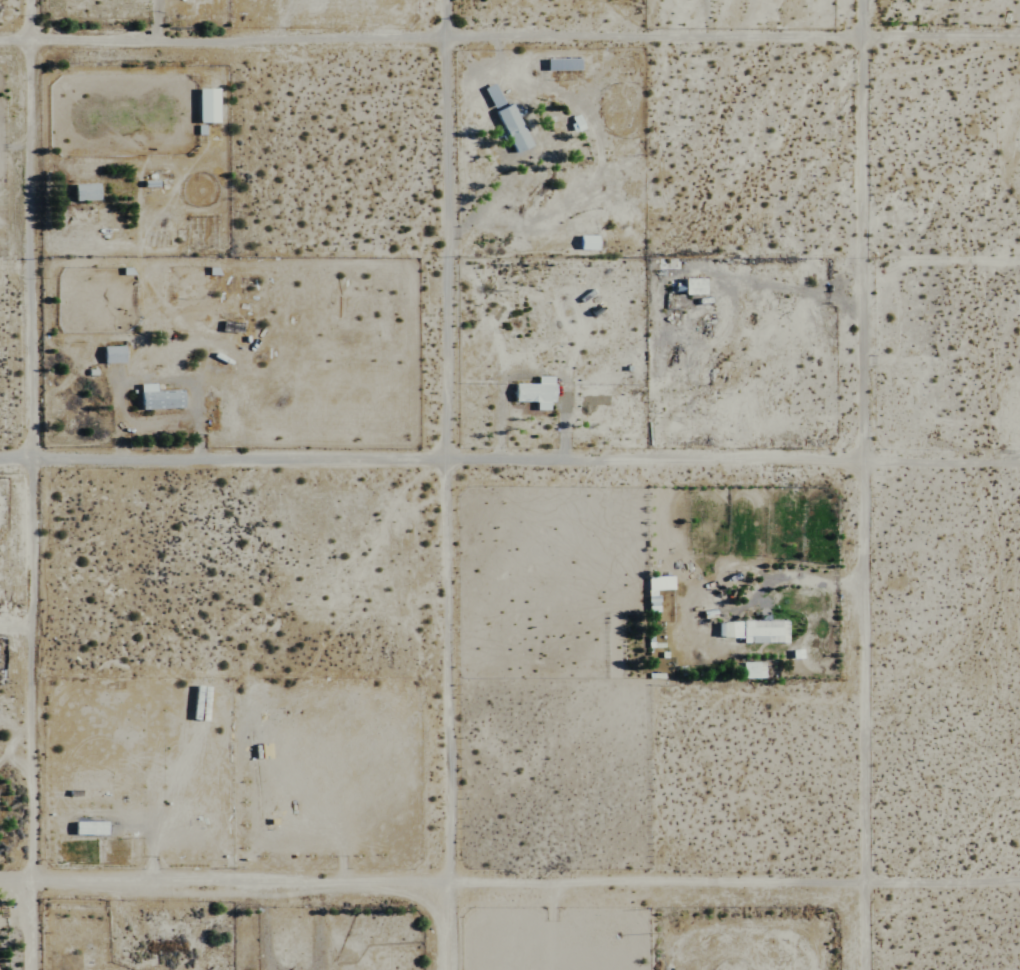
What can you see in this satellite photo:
road: (510, 45)
road: (1, 146)
road: (12, 150)
road: (12, 191)
road: (510, 466)
road: (27, 484)
road: (443, 485)
road: (885, 485)
road: (795, 578)
road: (509, 890)

